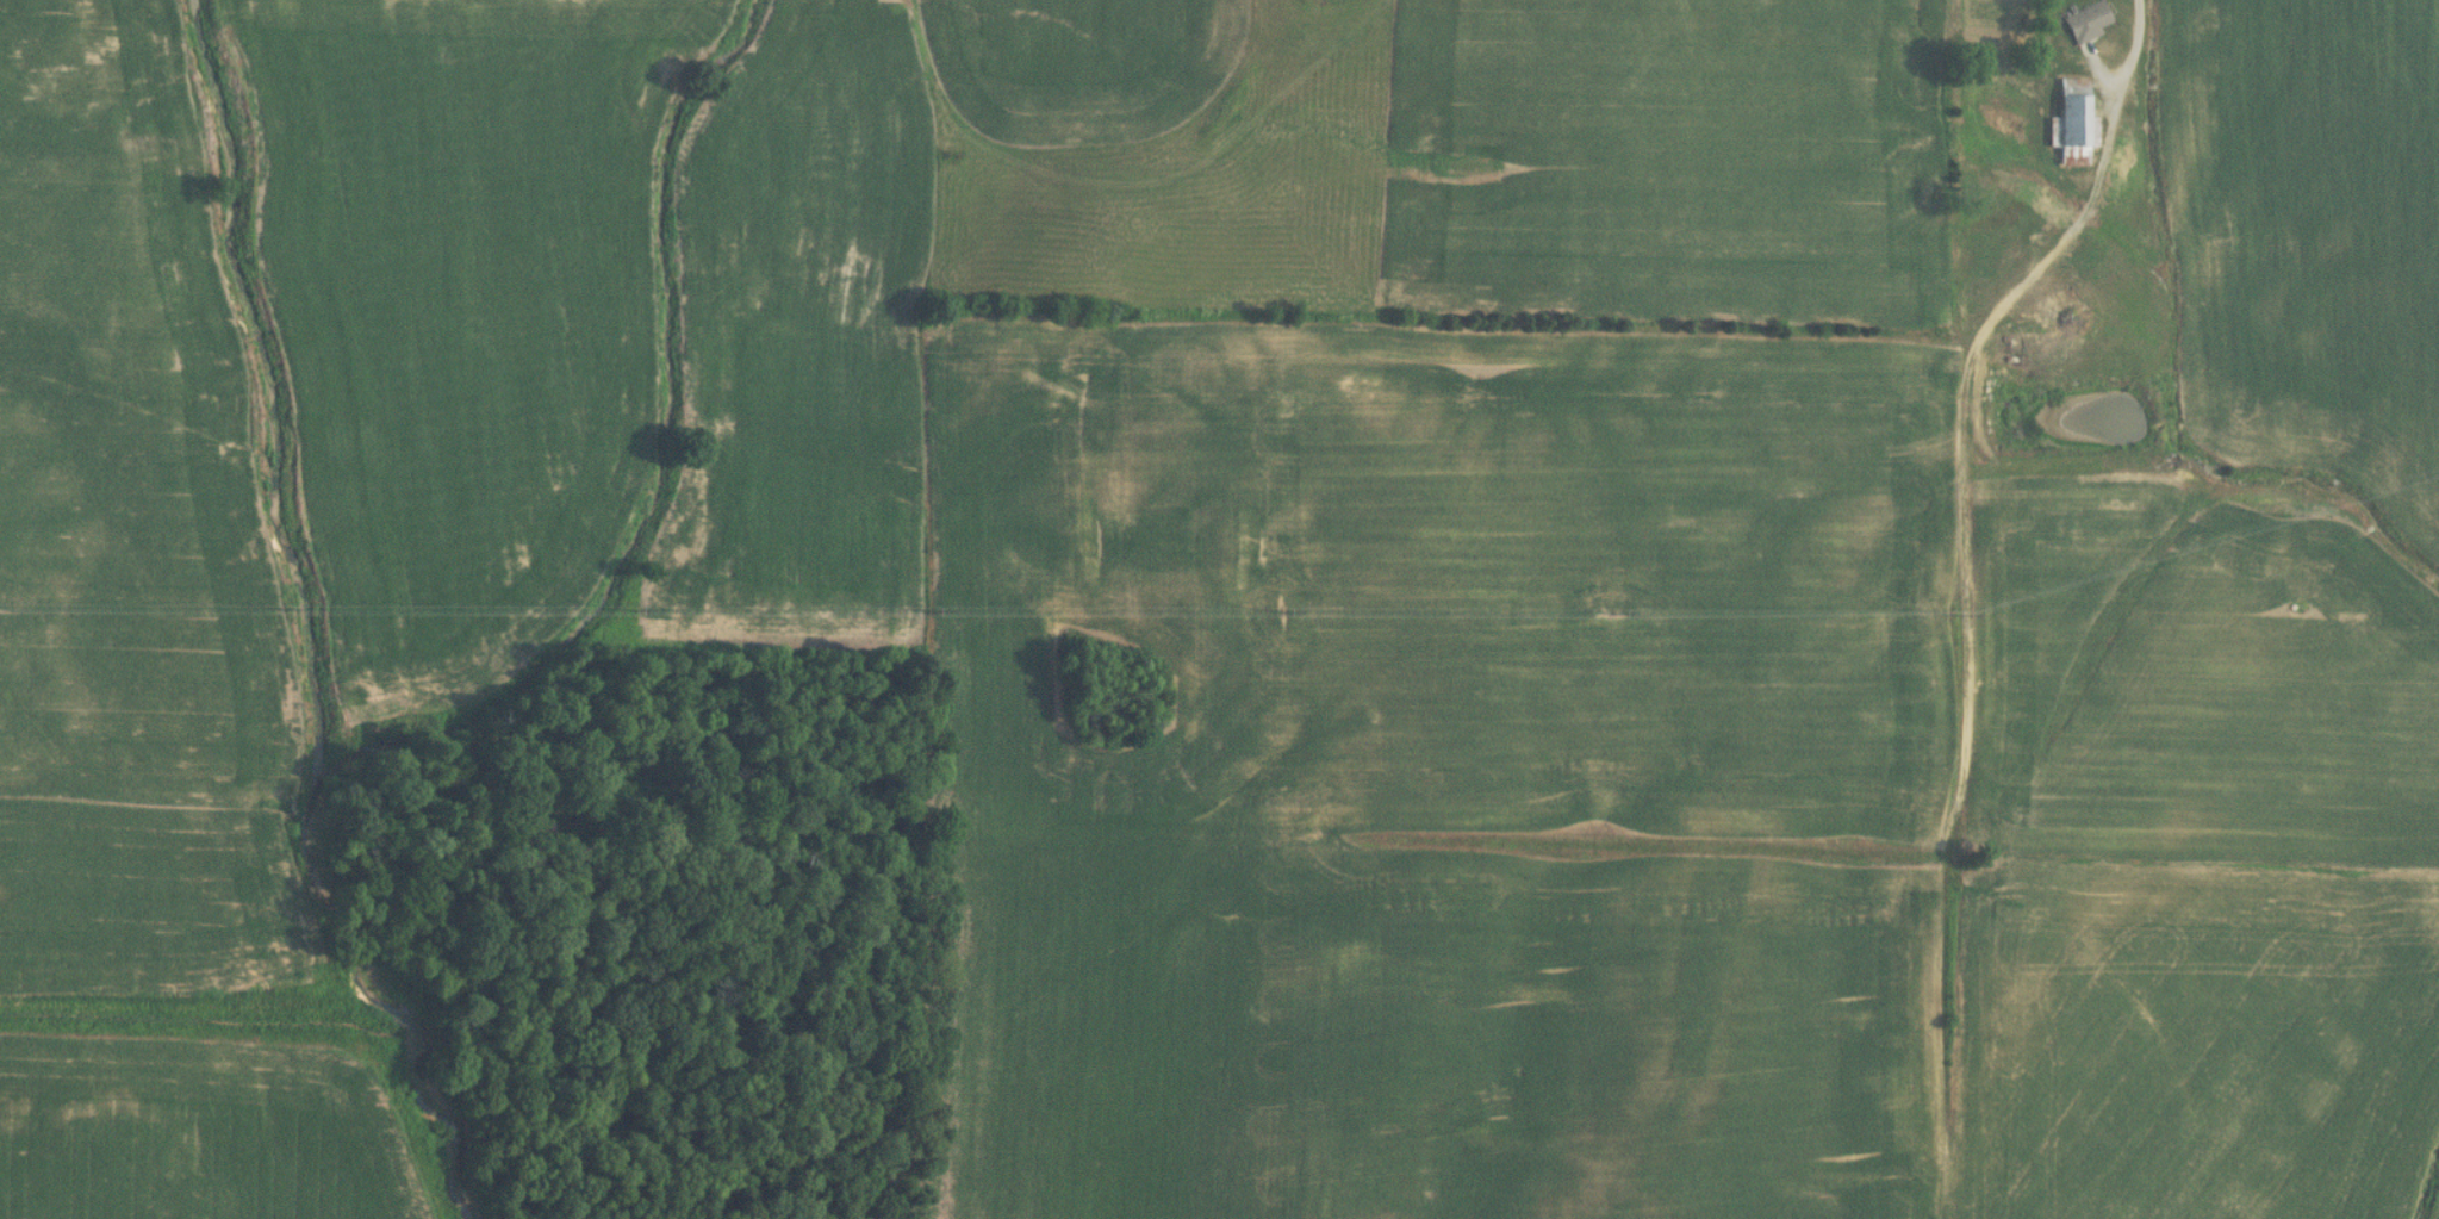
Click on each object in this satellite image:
road: (2129, 64)
building: (1964, 312)

